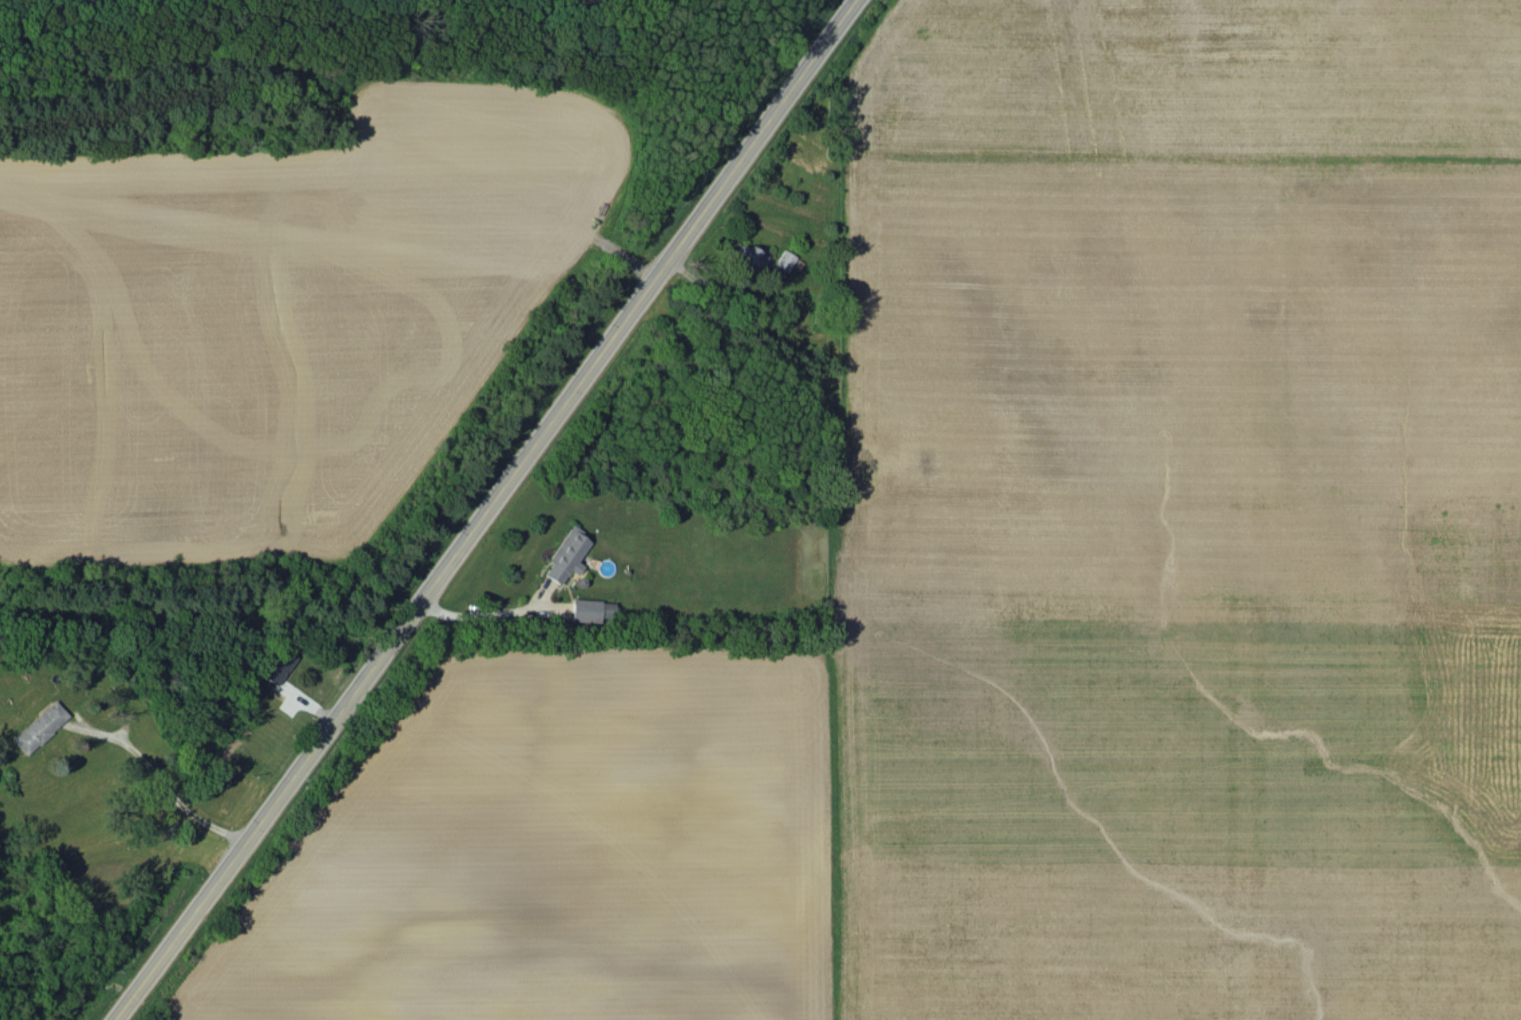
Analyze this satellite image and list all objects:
building: (746, 256)
building: (783, 259)
road: (487, 510)
building: (565, 554)
building: (590, 609)
road: (475, 613)
building: (276, 664)
building: (37, 726)
road: (165, 783)

